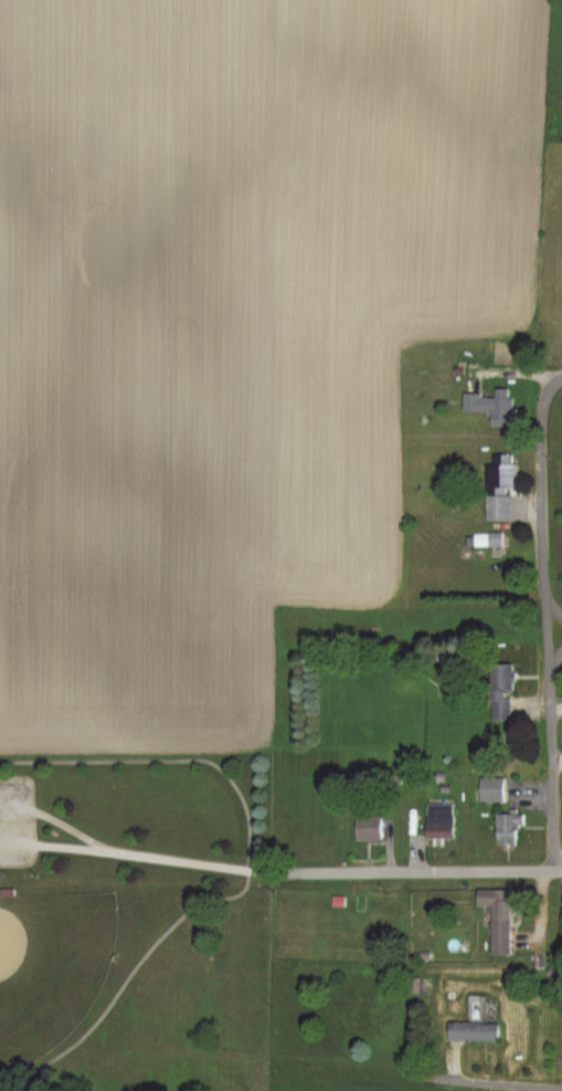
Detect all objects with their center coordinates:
road: (559, 381)
building: (489, 408)
building: (498, 487)
park: (559, 506)
road: (545, 531)
building: (494, 539)
road: (554, 599)
road: (558, 669)
building: (499, 691)
road: (554, 776)
building: (490, 788)
building: (437, 818)
parking lot: (17, 819)
building: (368, 827)
building: (507, 827)
road: (99, 846)
road: (192, 860)
road: (421, 871)
road: (247, 873)
building: (496, 917)
park: (135, 921)
park: (50, 965)
building: (471, 1030)
road: (432, 1074)
road: (501, 1081)

